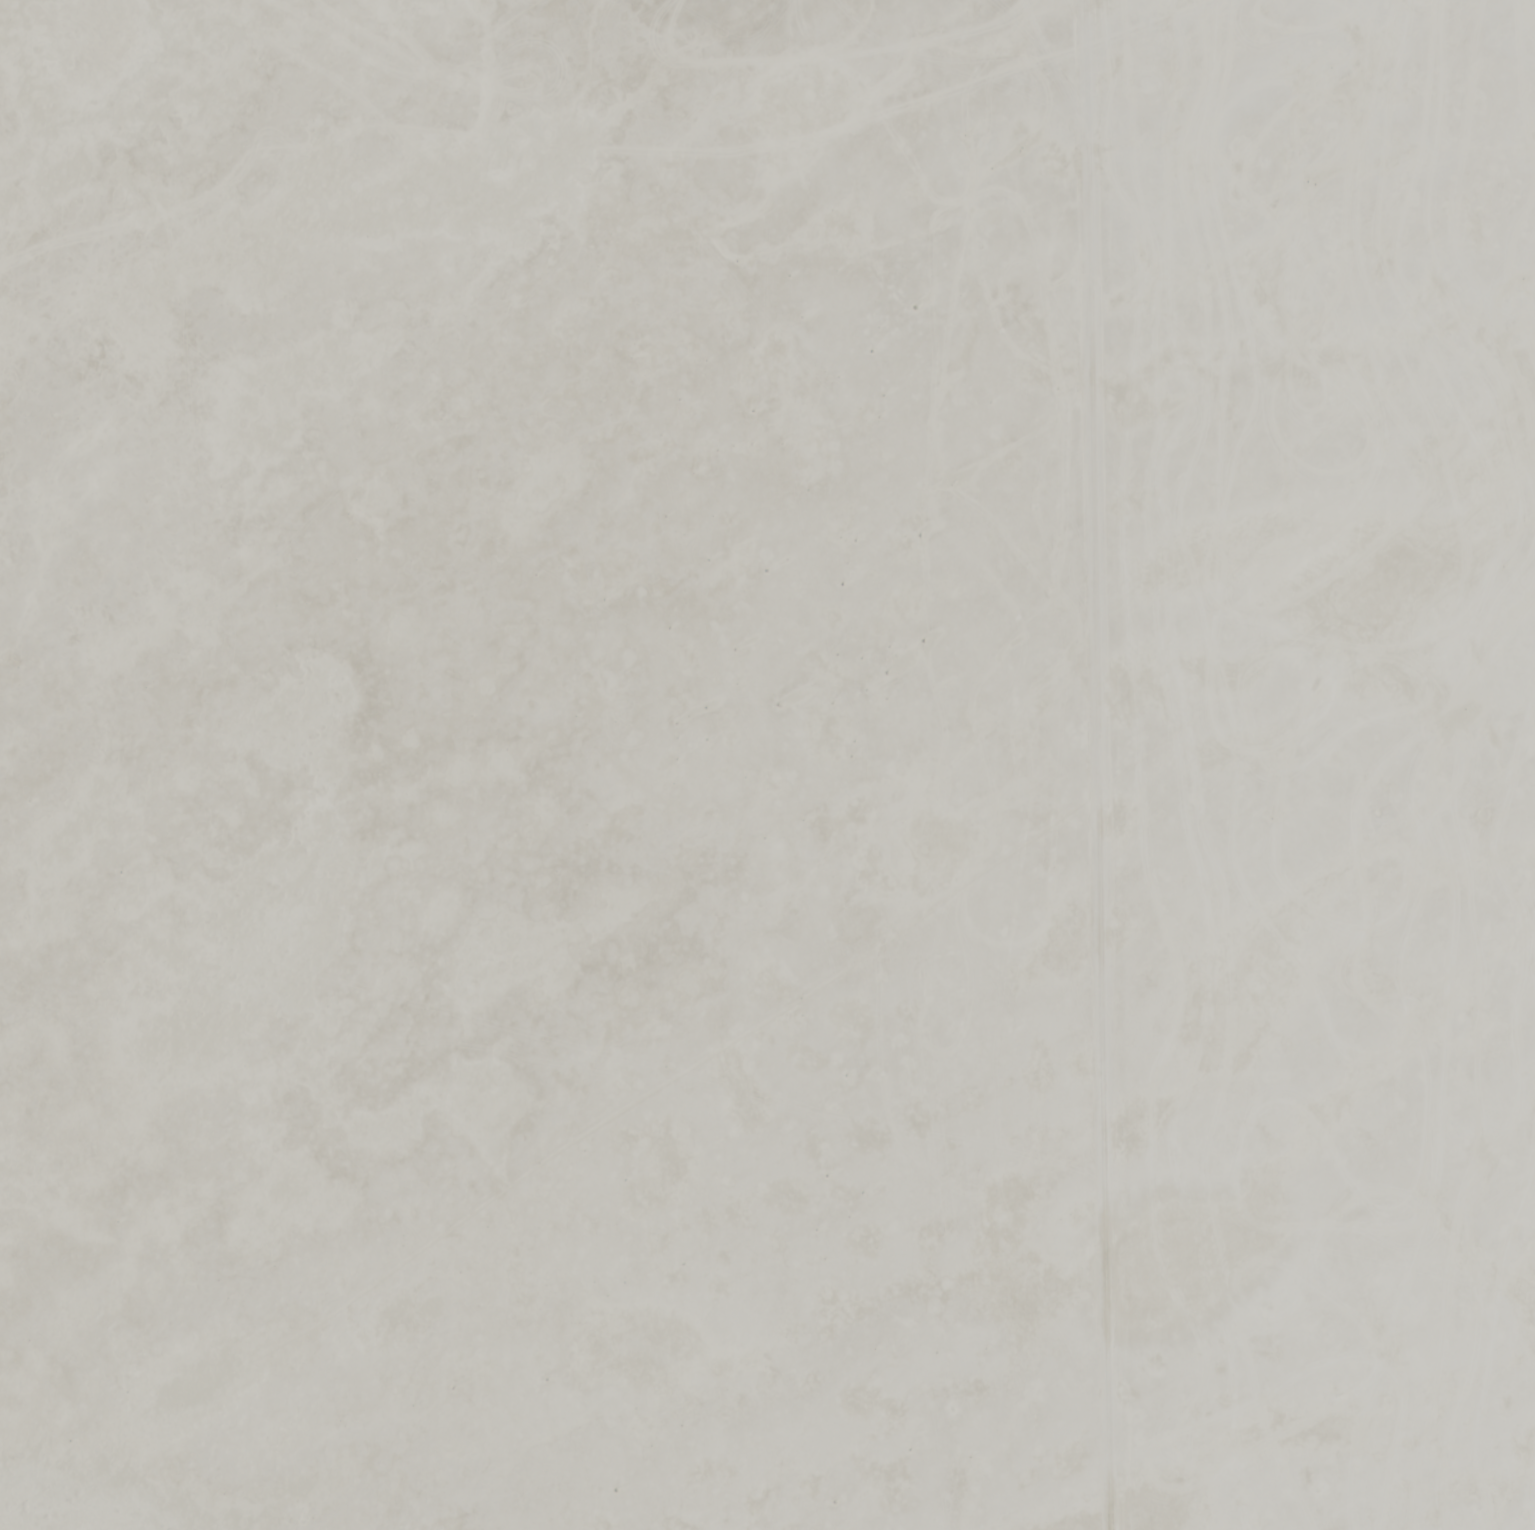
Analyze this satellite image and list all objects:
building: (1023, 544)
road: (1104, 765)

